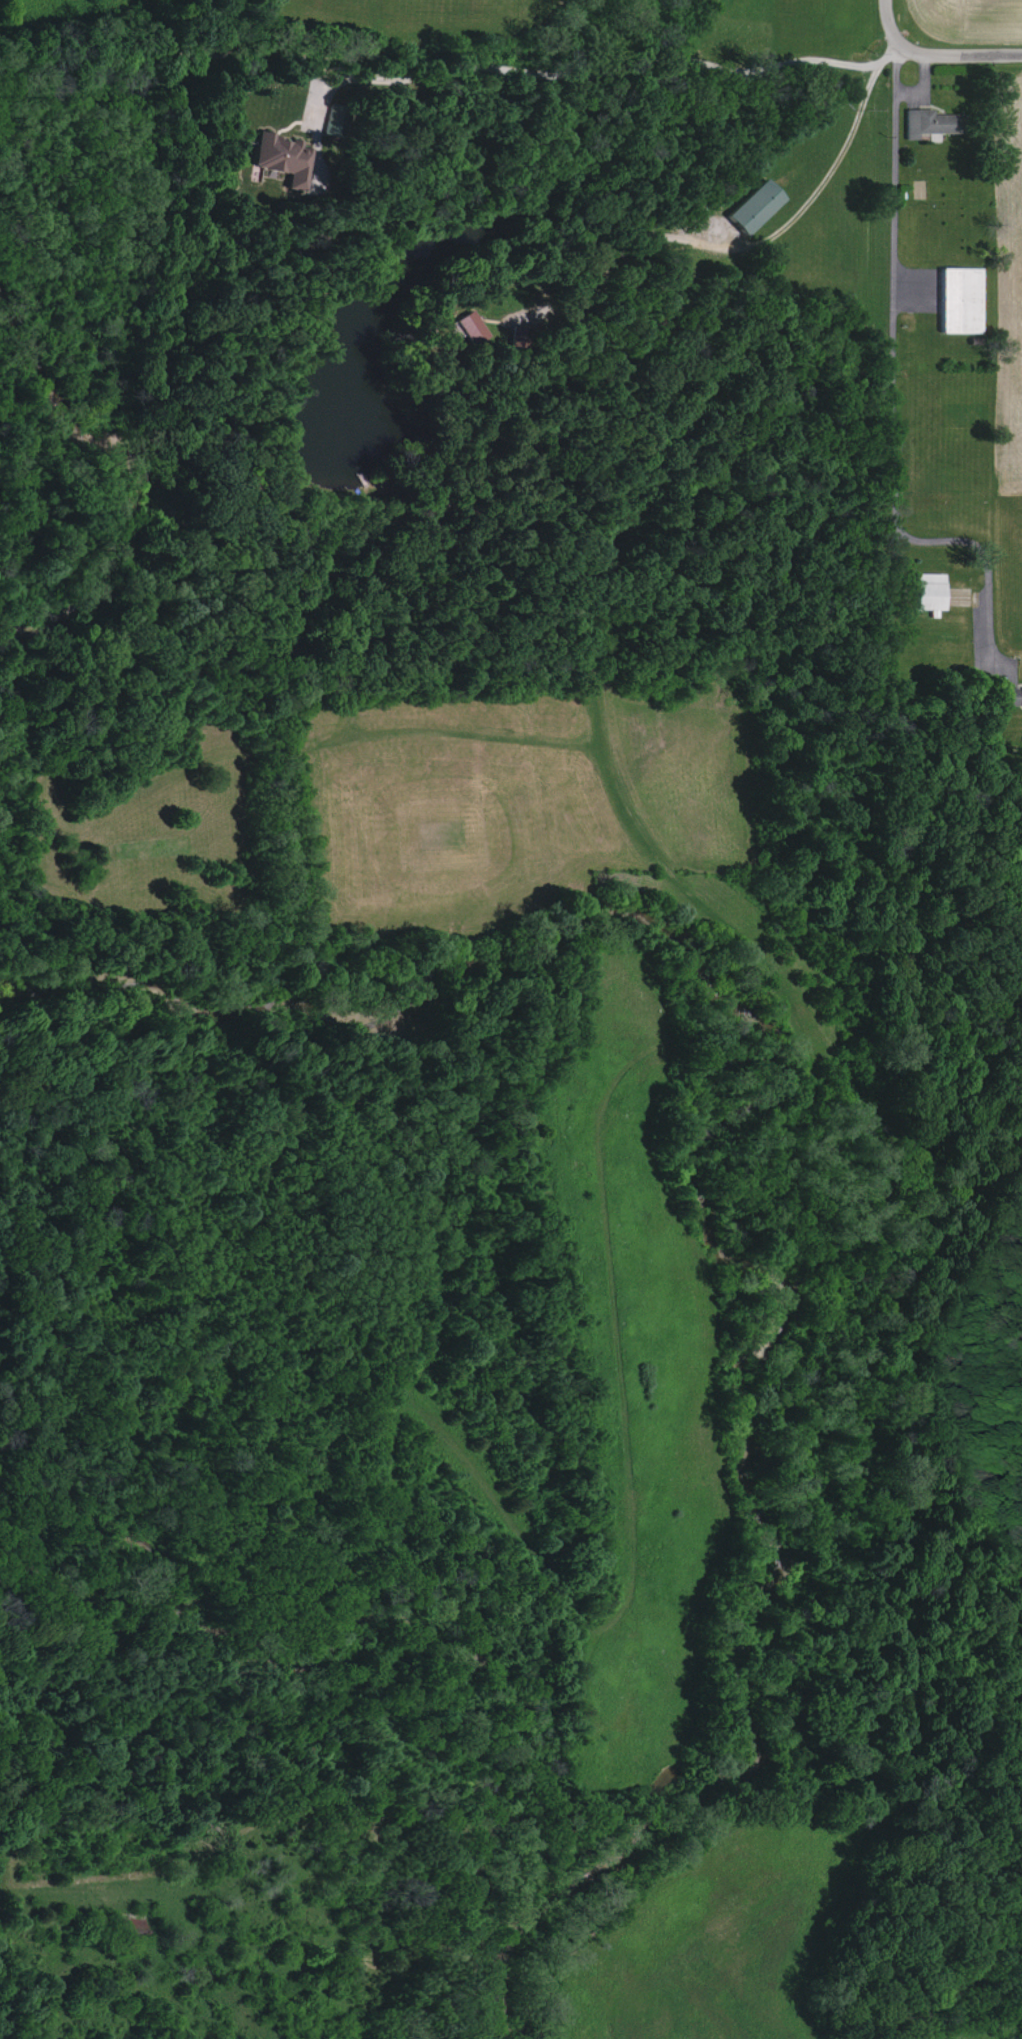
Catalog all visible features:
road: (890, 24)
road: (961, 54)
road: (582, 73)
building: (928, 123)
building: (280, 159)
building: (753, 208)
road: (754, 245)
building: (959, 301)
building: (470, 327)
road: (896, 393)
building: (927, 593)
building: (1006, 696)
building: (1021, 696)
road: (85, 1907)

